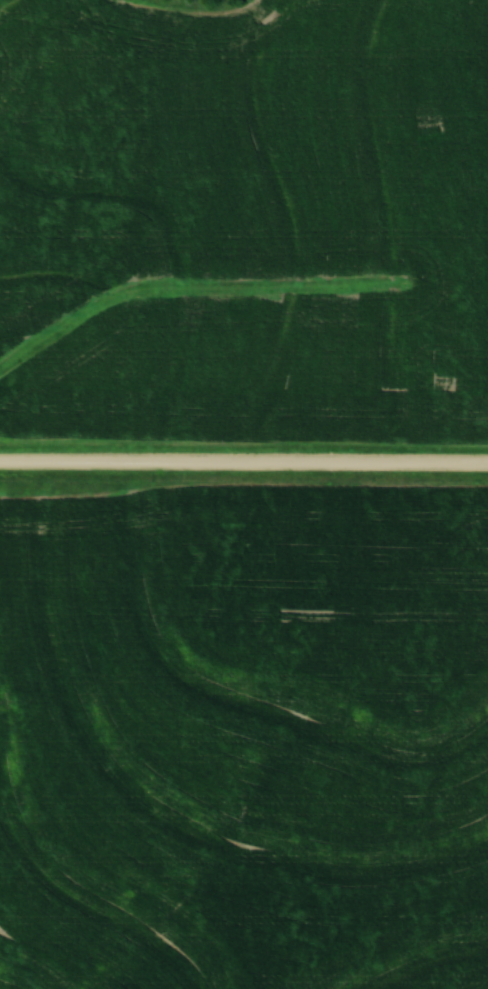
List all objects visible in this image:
road: (244, 467)

